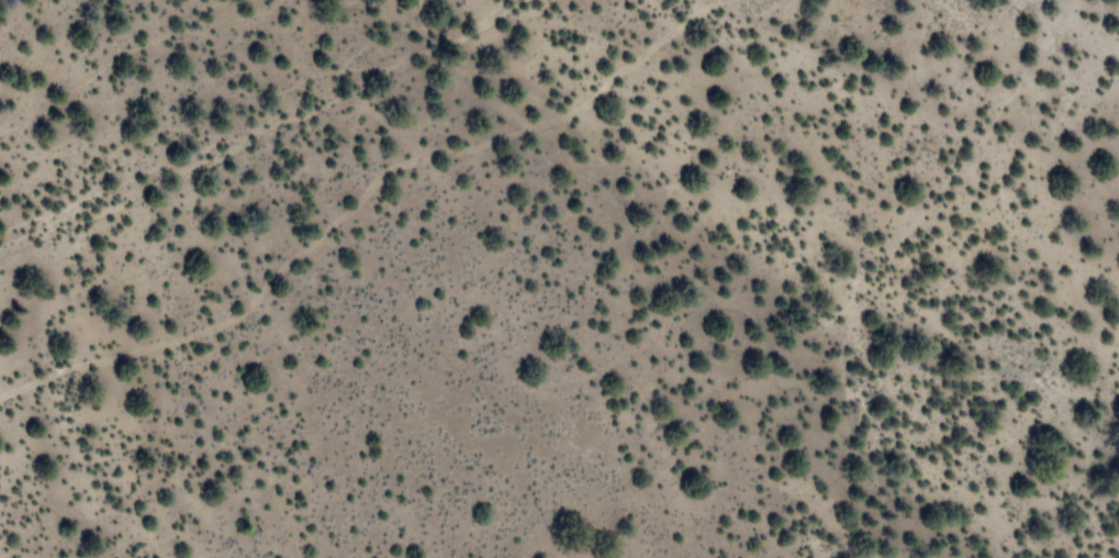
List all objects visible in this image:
road: (418, 234)

